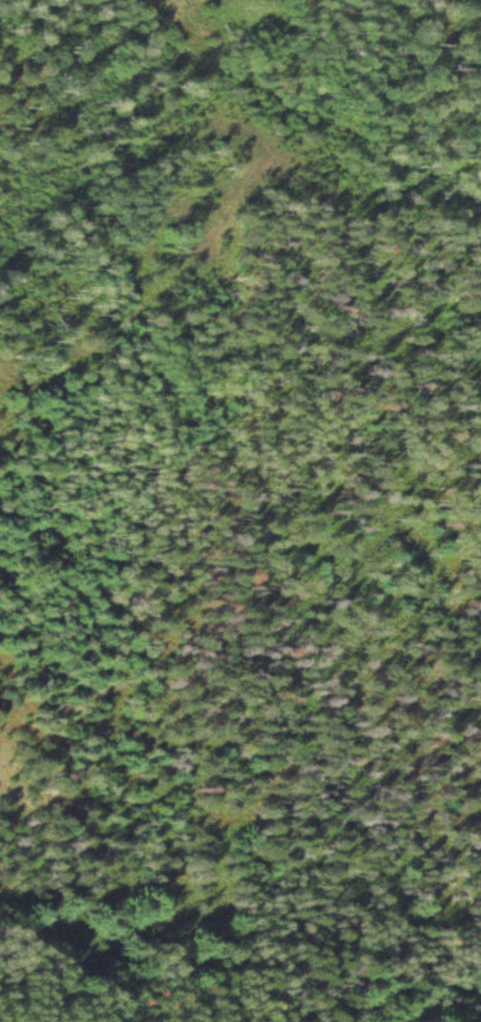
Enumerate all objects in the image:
road: (434, 140)

